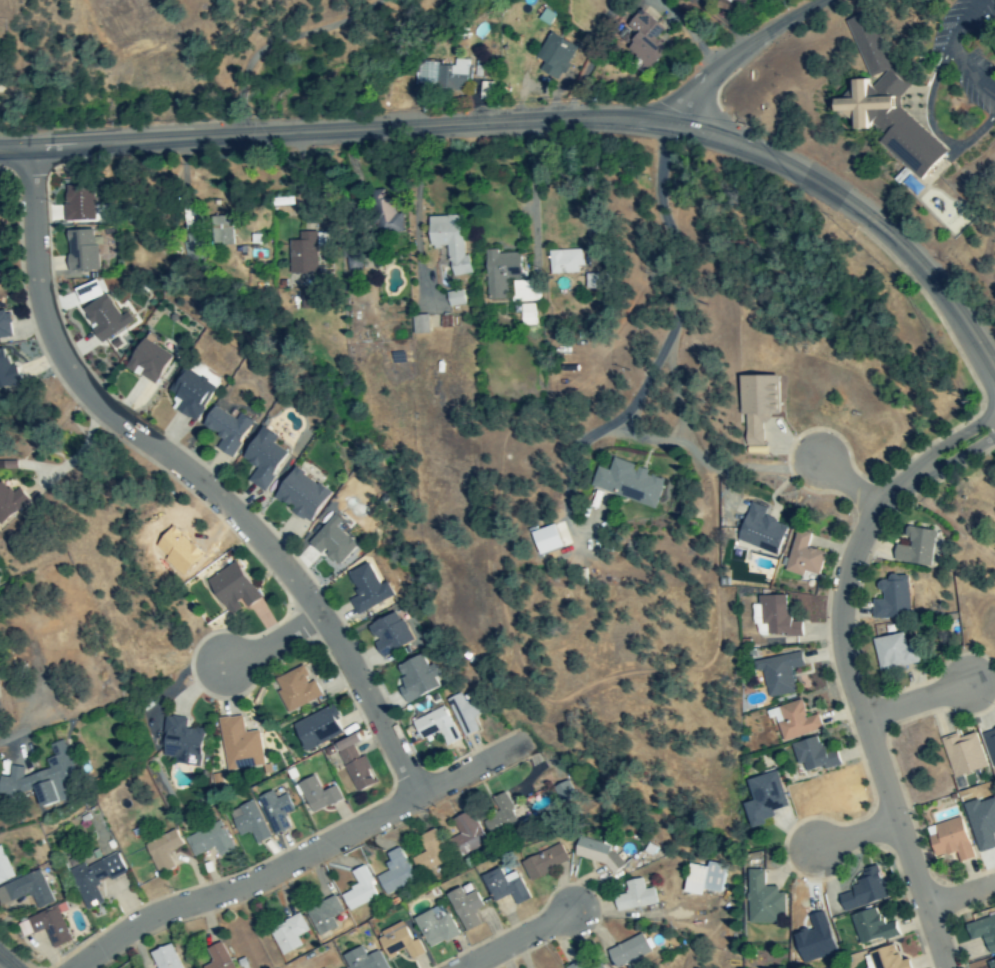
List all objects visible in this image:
building: (730, 2)
building: (643, 39)
road: (286, 45)
road: (744, 49)
building: (553, 55)
building: (479, 69)
building: (451, 76)
building: (883, 103)
road: (543, 117)
building: (77, 203)
building: (387, 217)
building: (219, 231)
building: (448, 242)
building: (81, 251)
building: (304, 253)
building: (563, 262)
building: (499, 273)
building: (593, 282)
building: (524, 291)
road: (668, 295)
building: (454, 299)
building: (526, 315)
building: (104, 318)
building: (418, 324)
building: (4, 326)
building: (146, 362)
building: (5, 370)
building: (189, 395)
building: (755, 406)
building: (225, 430)
building: (262, 458)
road: (195, 474)
building: (626, 483)
road: (851, 485)
building: (299, 496)
building: (760, 531)
building: (915, 548)
building: (802, 557)
building: (231, 589)
building: (367, 590)
building: (892, 598)
building: (773, 618)
building: (40, 623)
building: (388, 634)
road: (271, 642)
building: (893, 652)
road: (848, 671)
building: (778, 673)
building: (415, 677)
building: (294, 689)
road: (916, 701)
building: (462, 714)
building: (794, 722)
building: (434, 726)
road: (24, 727)
building: (315, 730)
building: (181, 742)
building: (238, 745)
building: (990, 746)
building: (811, 755)
building: (962, 755)
building: (352, 764)
building: (41, 779)
building: (565, 793)
building: (316, 795)
building: (762, 799)
building: (275, 811)
building: (499, 818)
building: (248, 822)
building: (465, 835)
road: (858, 837)
building: (208, 841)
building: (161, 852)
building: (597, 852)
building: (429, 853)
road: (297, 859)
building: (543, 862)
building: (4, 870)
building: (394, 873)
building: (94, 879)
building: (703, 879)
building: (503, 886)
building: (26, 891)
building: (358, 891)
building: (863, 891)
building: (633, 897)
road: (961, 897)
building: (761, 900)
building: (464, 907)
building: (323, 916)
building: (45, 927)
building: (434, 927)
building: (870, 927)
building: (983, 932)
building: (288, 935)
road: (533, 935)
building: (398, 943)
building: (627, 952)
building: (217, 957)
building: (164, 958)
building: (882, 959)
building: (363, 960)
road: (5, 963)
building: (990, 964)
building: (575, 965)
building: (597, 966)

